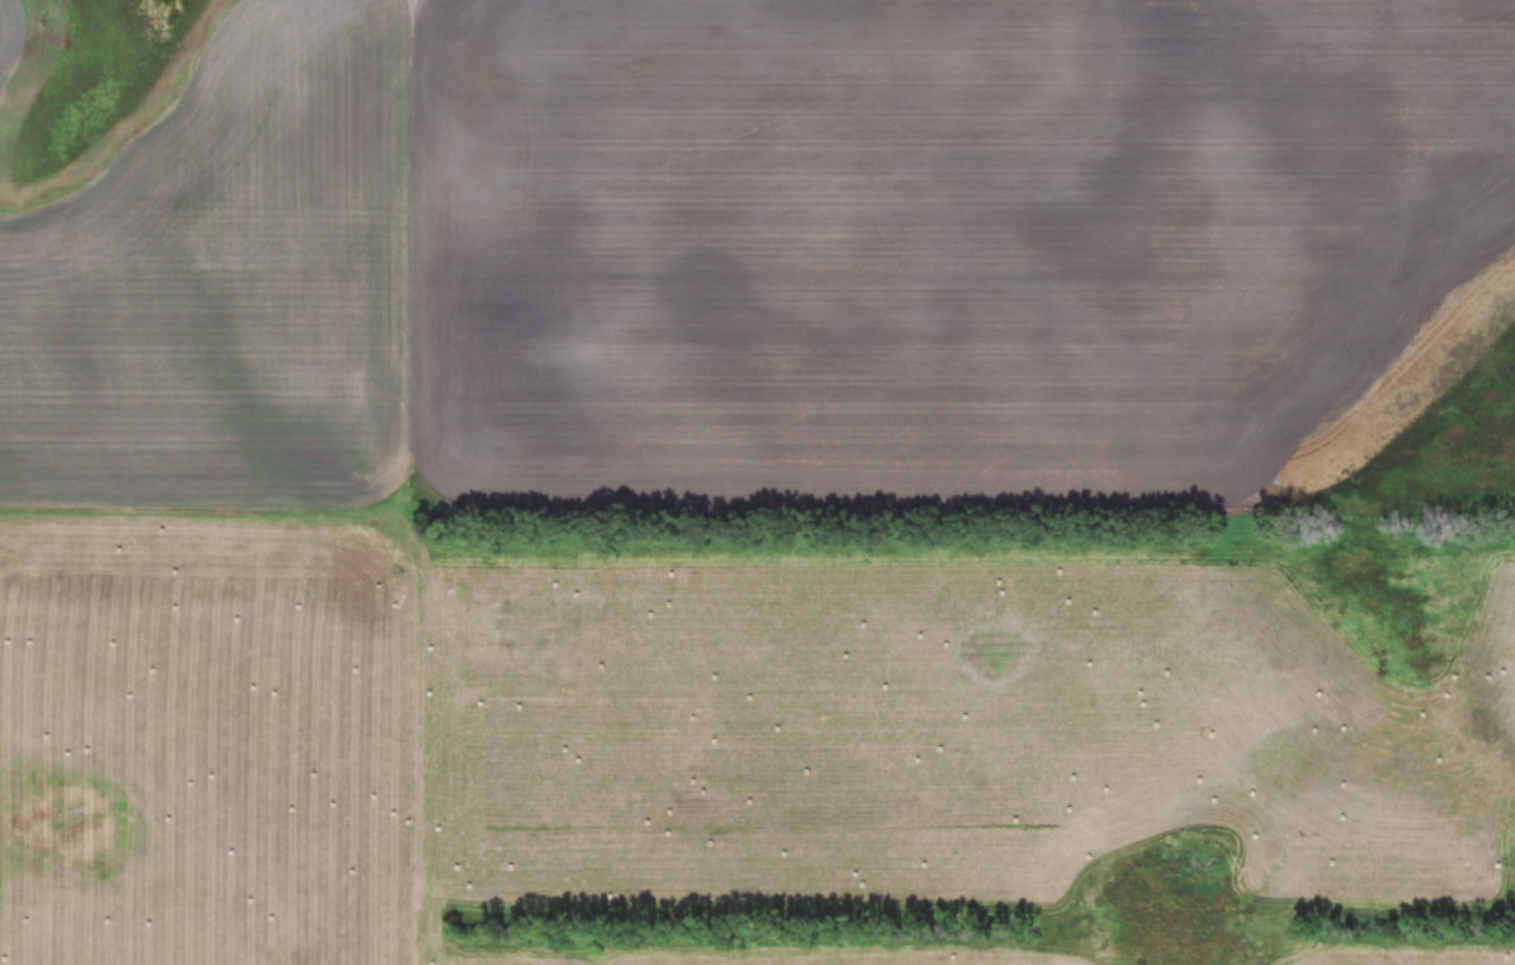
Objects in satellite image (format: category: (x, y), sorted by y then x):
road: (411, 482)
road: (206, 521)

